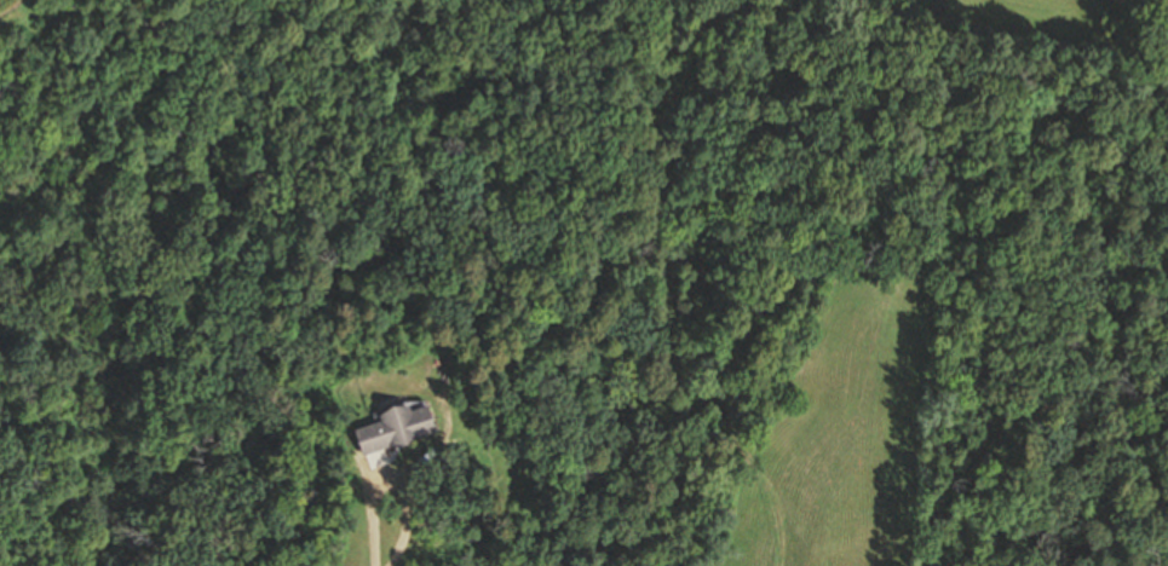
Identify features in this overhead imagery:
road: (598, 273)
building: (398, 427)
road: (403, 464)
road: (405, 518)

